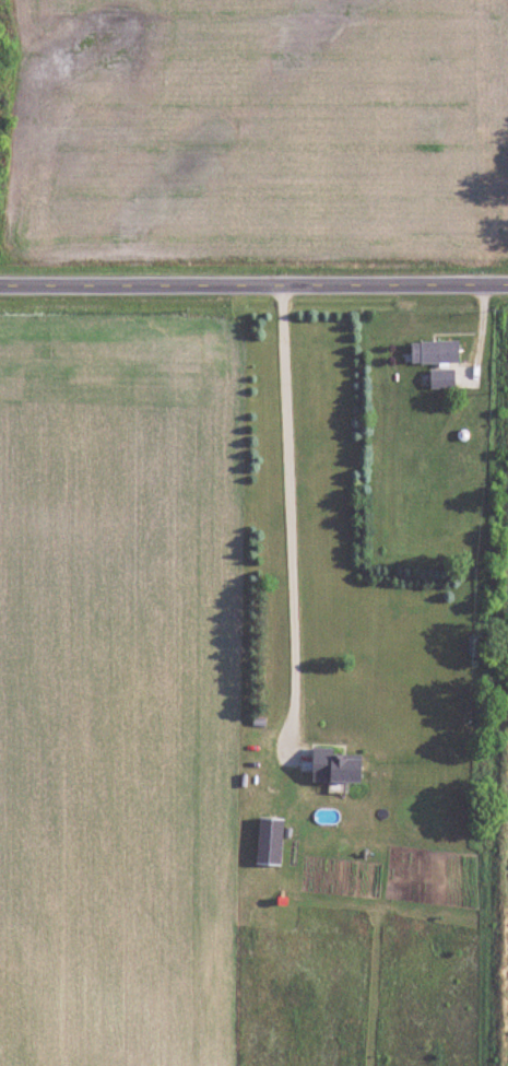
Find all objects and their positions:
road: (253, 274)
building: (436, 352)
building: (442, 378)
road: (290, 508)
building: (334, 766)
building: (271, 841)

